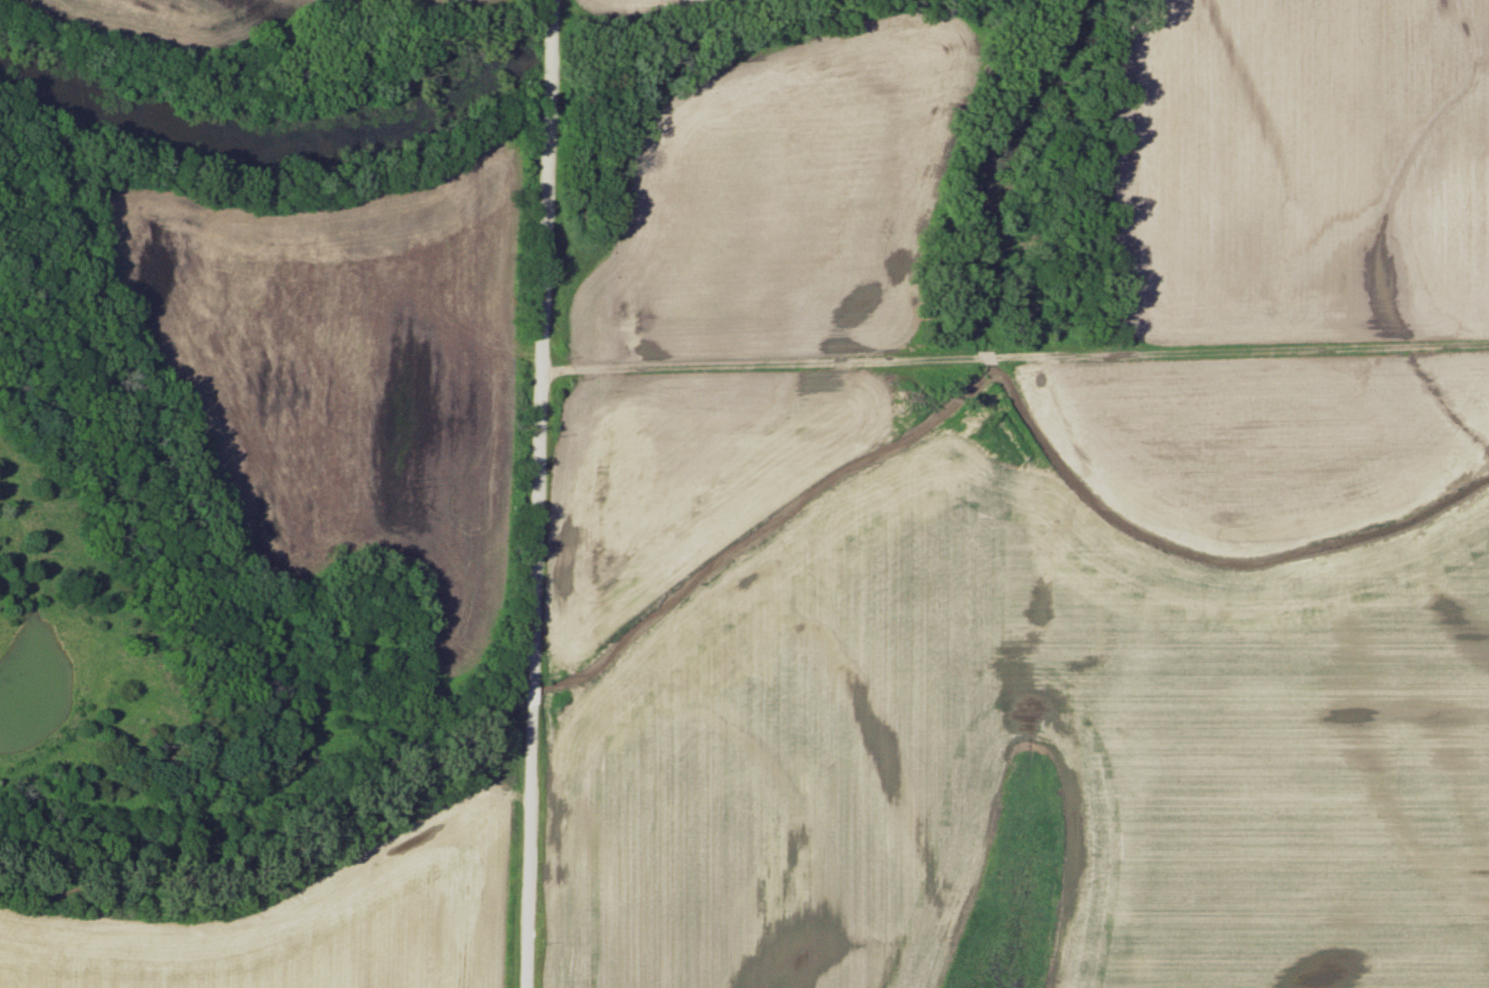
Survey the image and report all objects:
road: (1014, 363)
road: (536, 493)

